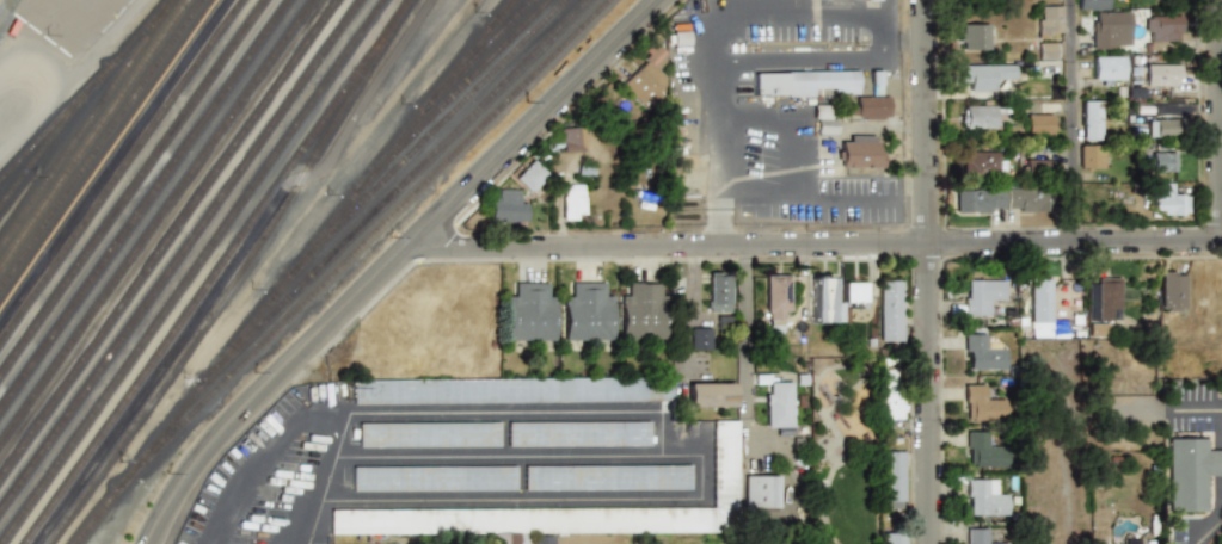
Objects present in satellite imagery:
building: (870, 0)
building: (1091, 5)
railway: (508, 11)
building: (1049, 20)
building: (1162, 27)
building: (1110, 30)
building: (974, 36)
railway: (483, 50)
building: (1046, 50)
road: (705, 57)
building: (1107, 69)
building: (1162, 74)
building: (982, 75)
building: (644, 78)
building: (805, 82)
railway: (88, 93)
railway: (452, 99)
building: (871, 107)
building: (981, 116)
road: (1073, 120)
building: (1092, 120)
road: (1220, 120)
building: (1039, 124)
railway: (87, 125)
building: (1165, 126)
railway: (434, 134)
railway: (94, 136)
building: (572, 138)
railway: (102, 146)
building: (860, 150)
railway: (42, 152)
building: (1091, 155)
railway: (109, 156)
building: (1163, 161)
building: (982, 163)
building: (1034, 165)
railway: (121, 172)
building: (529, 175)
railway: (133, 188)
railway: (395, 190)
building: (1003, 199)
building: (573, 200)
road: (739, 202)
building: (1169, 203)
railway: (145, 205)
building: (506, 206)
railway: (156, 223)
railway: (325, 235)
railway: (168, 240)
road: (819, 243)
railway: (180, 256)
road: (388, 261)
railway: (339, 267)
railway: (194, 271)
road: (927, 271)
railway: (217, 272)
railway: (239, 277)
building: (1172, 290)
building: (717, 291)
building: (855, 295)
building: (982, 295)
building: (776, 298)
building: (824, 298)
building: (1109, 298)
building: (1040, 308)
building: (890, 310)
building: (643, 311)
building: (530, 314)
building: (588, 314)
road: (745, 327)
building: (1097, 329)
building: (1208, 329)
building: (700, 338)
building: (982, 352)
building: (514, 390)
building: (711, 394)
building: (891, 394)
building: (779, 402)
building: (981, 402)
road: (1221, 410)
road: (664, 432)
building: (431, 434)
building: (582, 435)
building: (983, 449)
road: (270, 458)
park: (845, 458)
road: (1220, 460)
building: (726, 468)
building: (1193, 472)
building: (892, 476)
building: (437, 480)
building: (610, 481)
building: (762, 490)
building: (983, 497)
road: (306, 500)
road: (419, 501)
building: (536, 520)
building: (981, 537)
building: (894, 538)
building: (536, 539)
building: (1152, 542)

